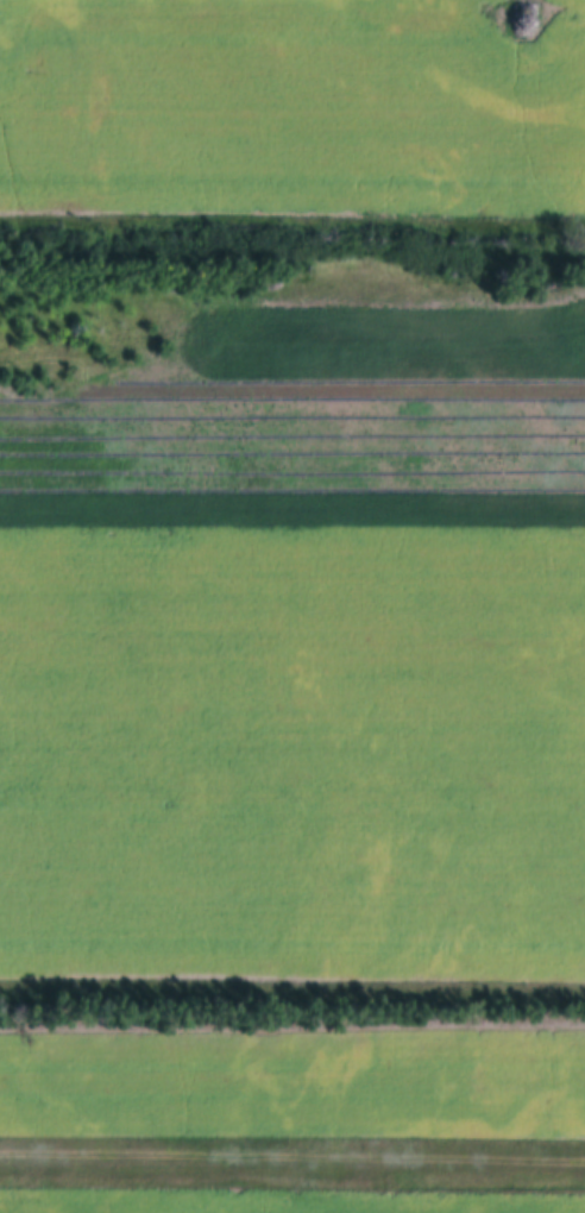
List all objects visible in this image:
road: (292, 1154)

